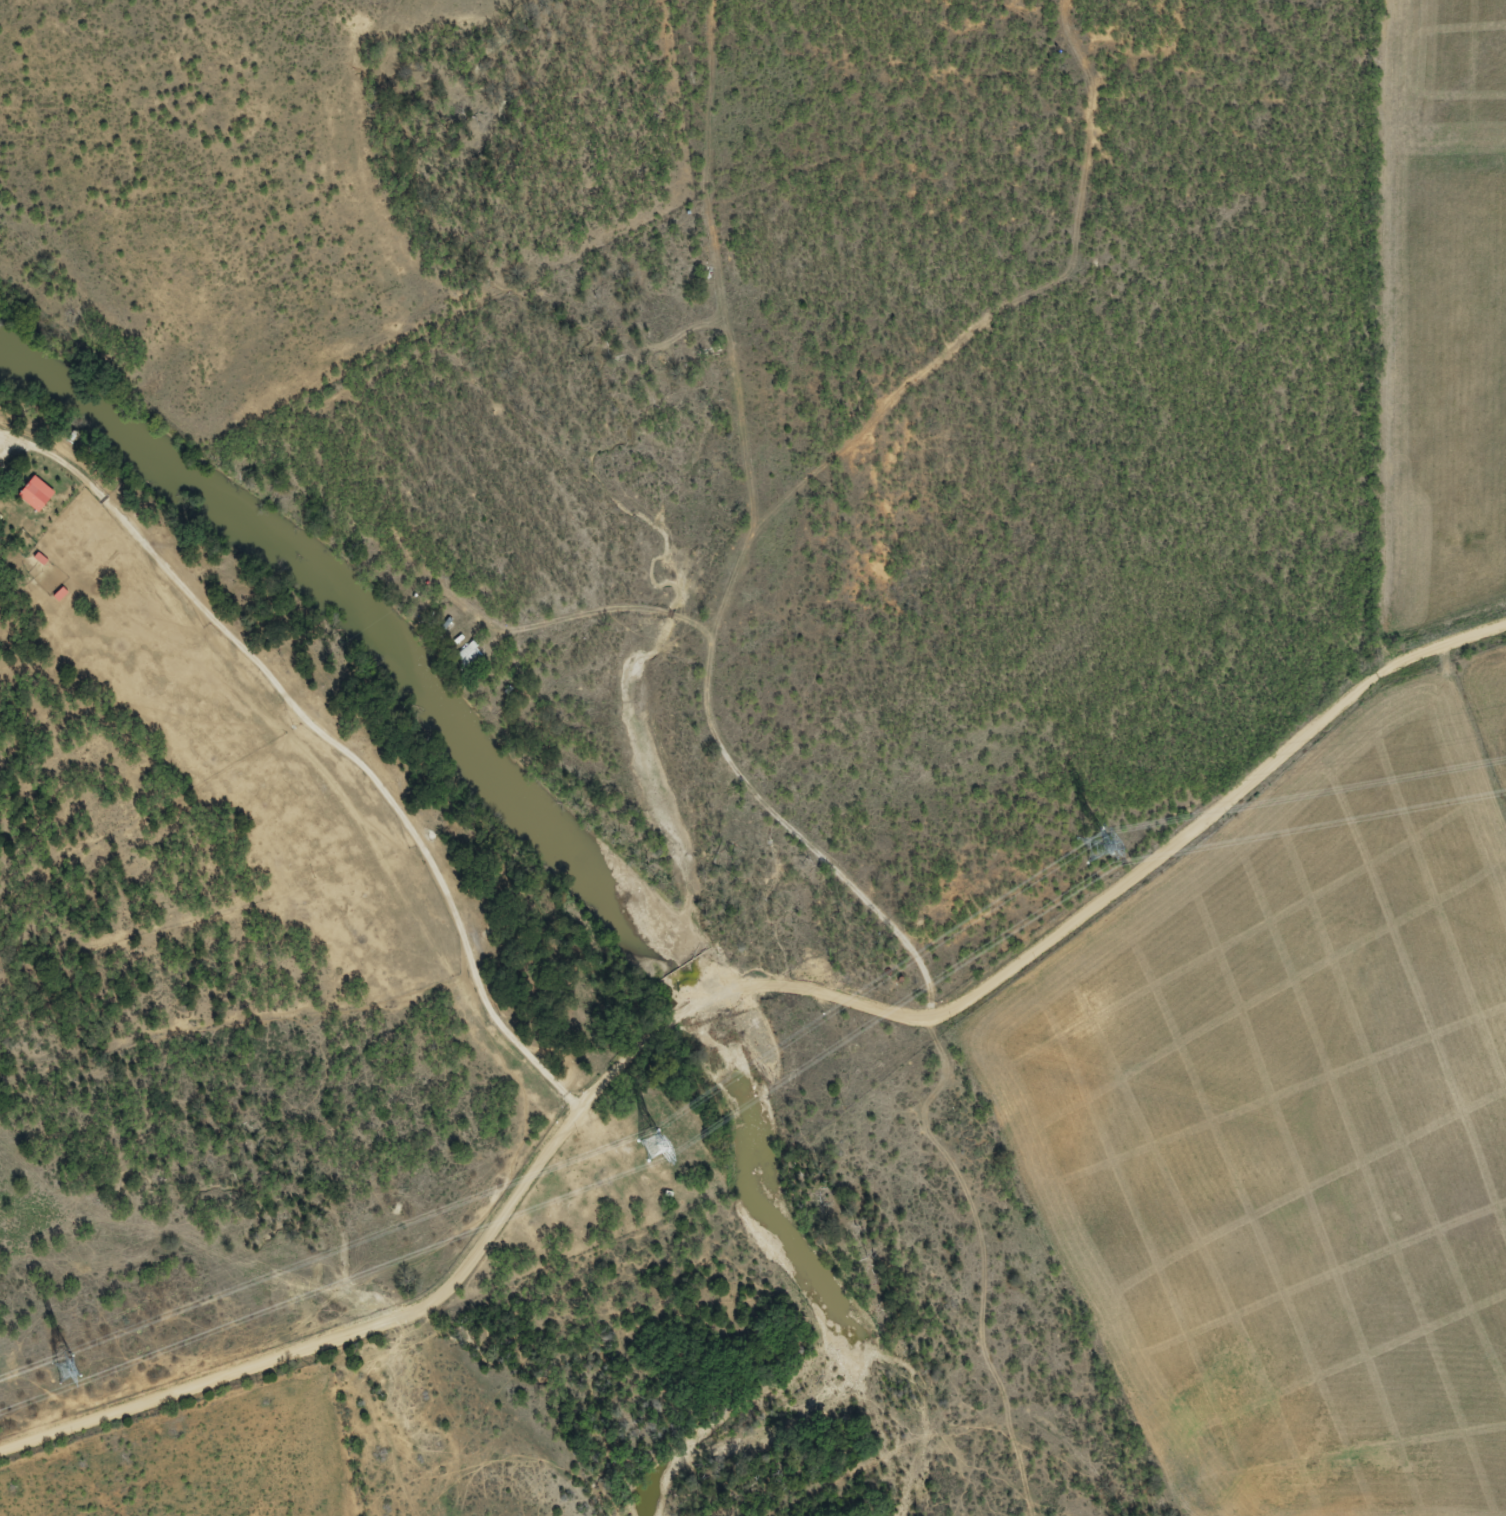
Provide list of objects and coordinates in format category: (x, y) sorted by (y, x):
building: (0, 467)
building: (35, 496)
building: (467, 657)
power tower: (1094, 851)
road: (719, 1015)
power tower: (652, 1147)
power tower: (66, 1371)

